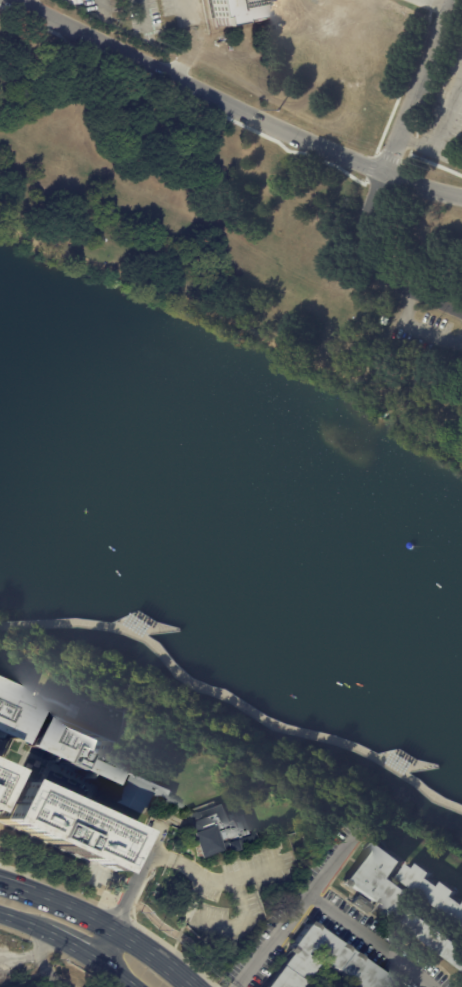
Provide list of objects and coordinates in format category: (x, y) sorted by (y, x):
road: (22, 2)
road: (29, 2)
road: (101, 4)
road: (434, 4)
road: (183, 8)
building: (241, 9)
road: (144, 20)
road: (415, 85)
road: (183, 95)
road: (242, 107)
power tower: (277, 110)
road: (440, 131)
road: (375, 152)
road: (429, 162)
park: (233, 231)
road: (376, 267)
road: (116, 271)
road: (243, 327)
road: (416, 332)
parking lot: (428, 334)
road: (388, 339)
road: (363, 385)
river: (230, 517)
road: (232, 702)
building: (9, 713)
building: (67, 744)
building: (139, 790)
building: (58, 826)
building: (210, 829)
road: (129, 854)
road: (209, 875)
road: (61, 876)
road: (133, 877)
road: (2, 883)
road: (2, 883)
building: (433, 891)
road: (35, 896)
building: (396, 896)
building: (359, 903)
road: (298, 909)
road: (3, 912)
road: (3, 913)
road: (113, 913)
road: (237, 917)
road: (88, 919)
road: (24, 921)
road: (178, 935)
railway: (83, 938)
road: (373, 941)
road: (70, 942)
road: (105, 945)
road: (29, 953)
road: (149, 956)
building: (320, 962)
road: (47, 970)
road: (118, 972)
road: (238, 986)

